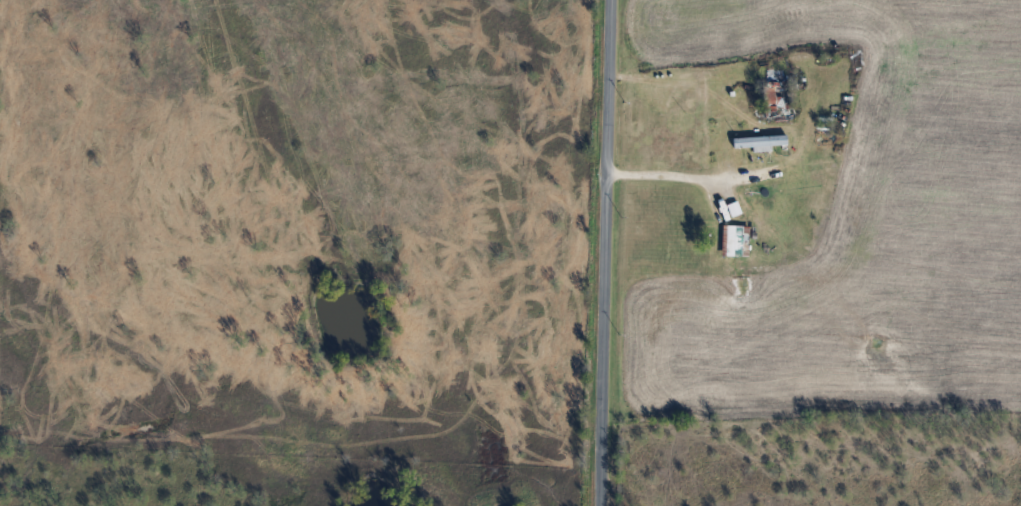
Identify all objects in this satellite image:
building: (775, 98)
building: (741, 150)
road: (720, 181)
building: (810, 235)
building: (734, 241)
road: (604, 253)

